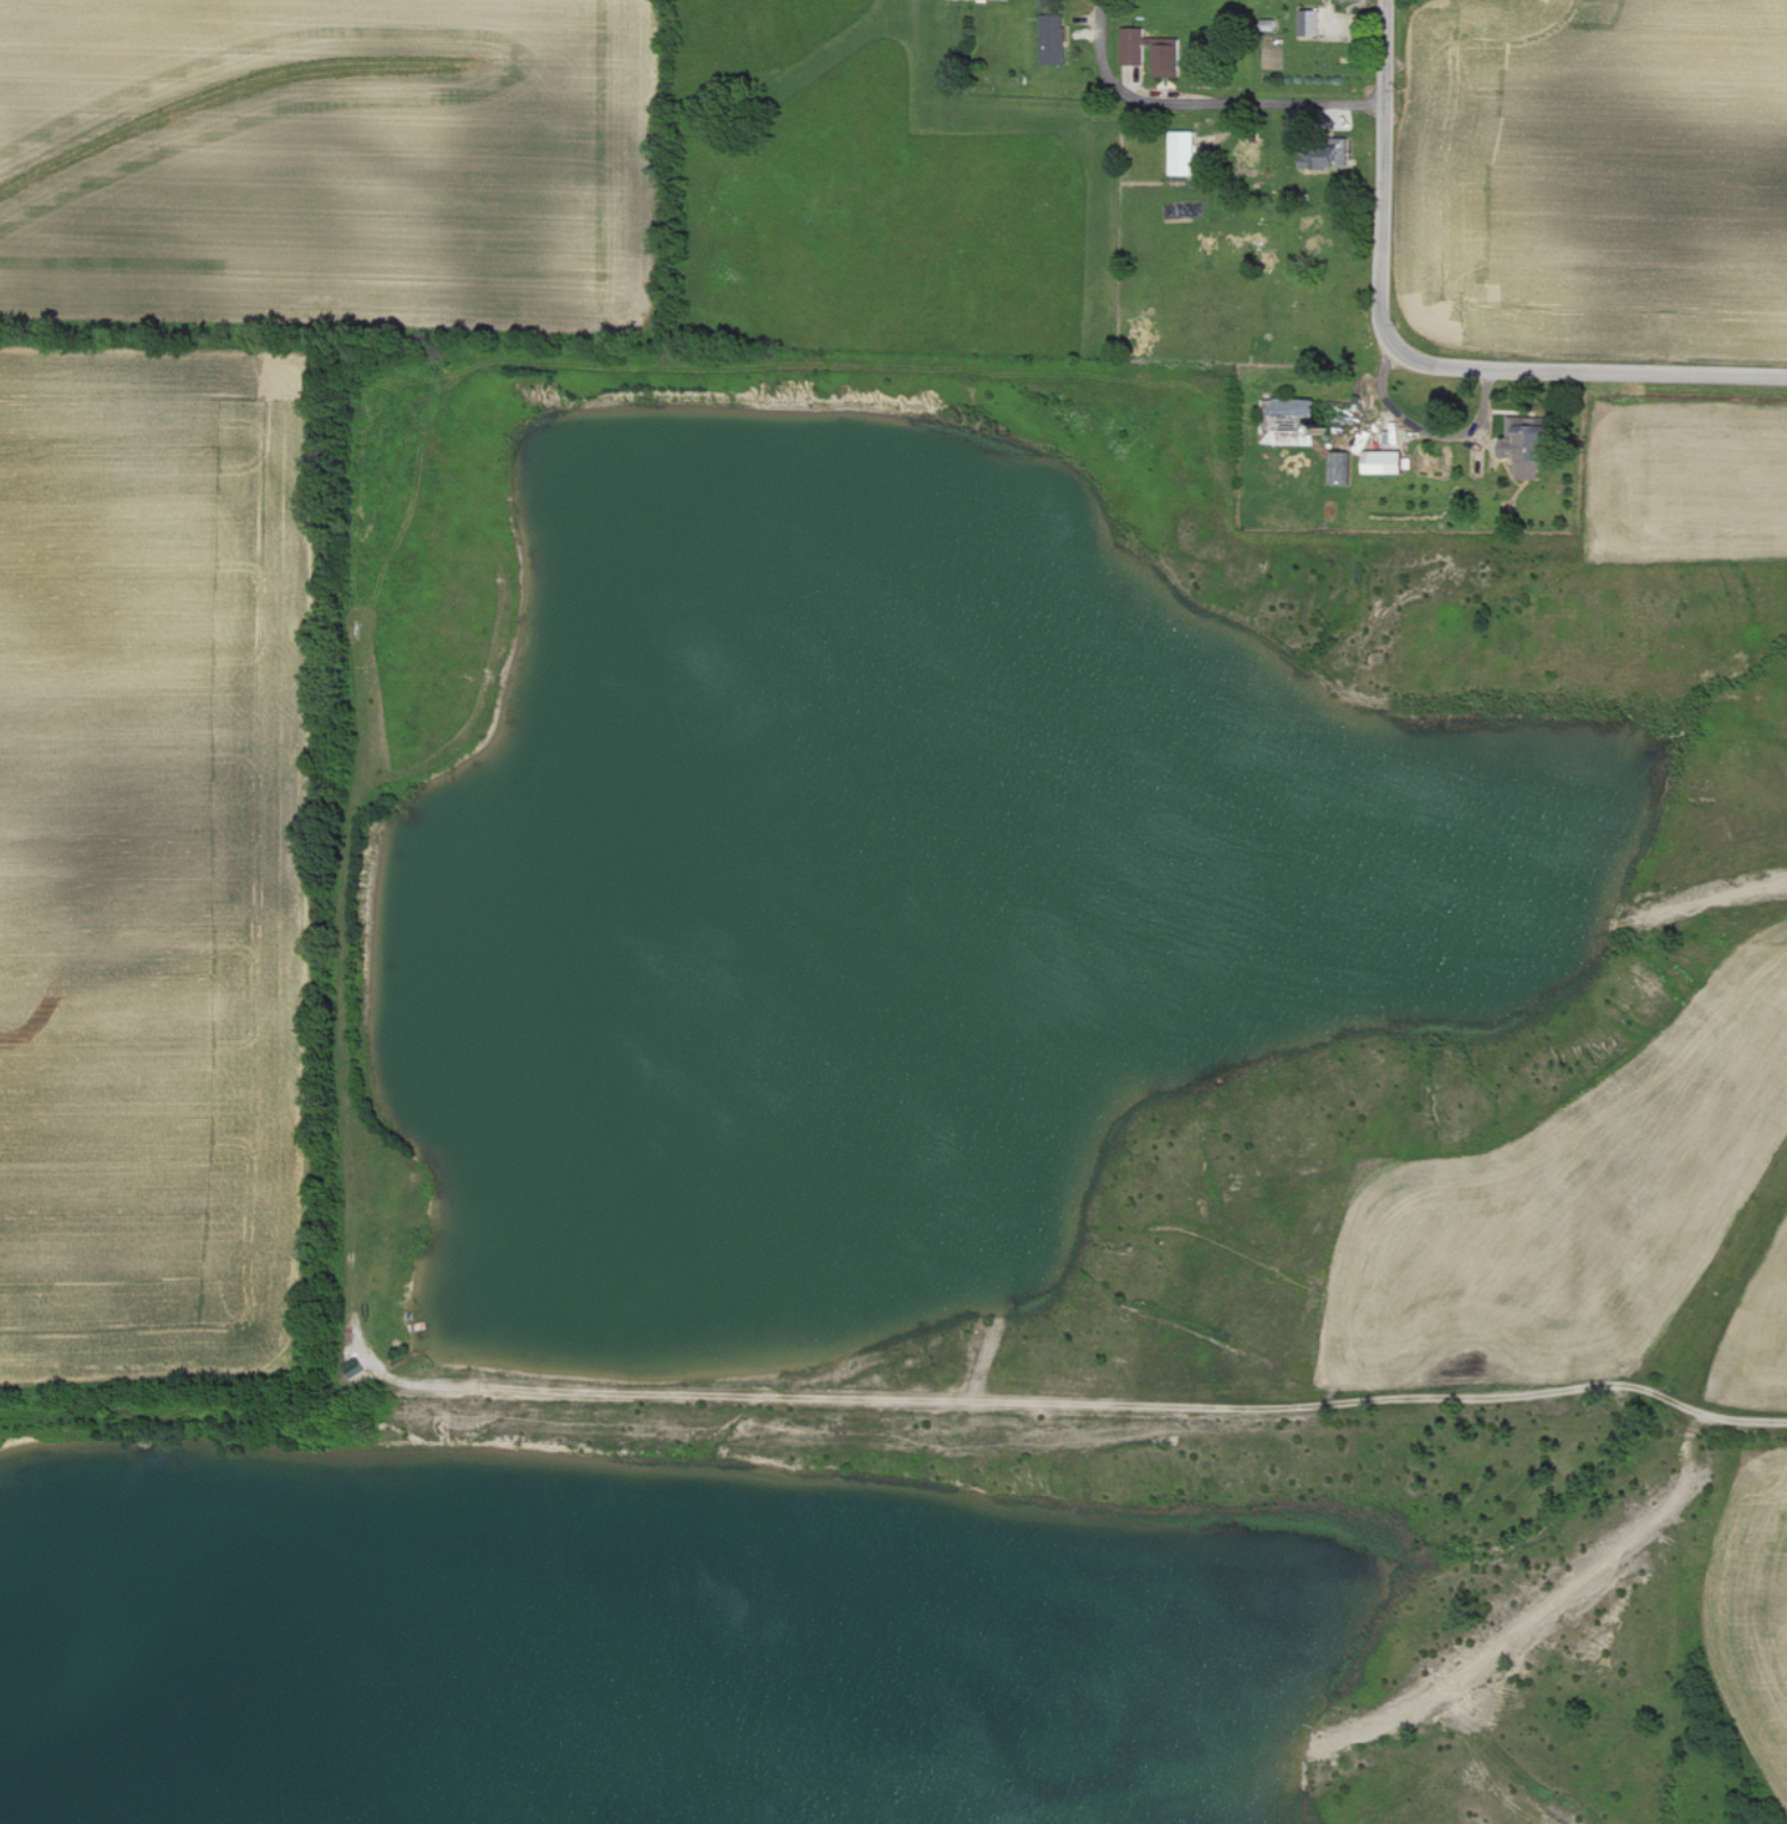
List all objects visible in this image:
building: (1004, 0)
building: (1344, 0)
building: (1312, 23)
building: (1056, 42)
building: (1133, 47)
road: (1392, 51)
building: (1169, 59)
road: (1208, 96)
building: (1186, 154)
building: (1326, 158)
road: (1390, 165)
road: (1525, 371)
building: (1293, 421)
building: (1530, 445)
building: (1390, 461)
building: (1341, 467)
road: (1088, 1406)

